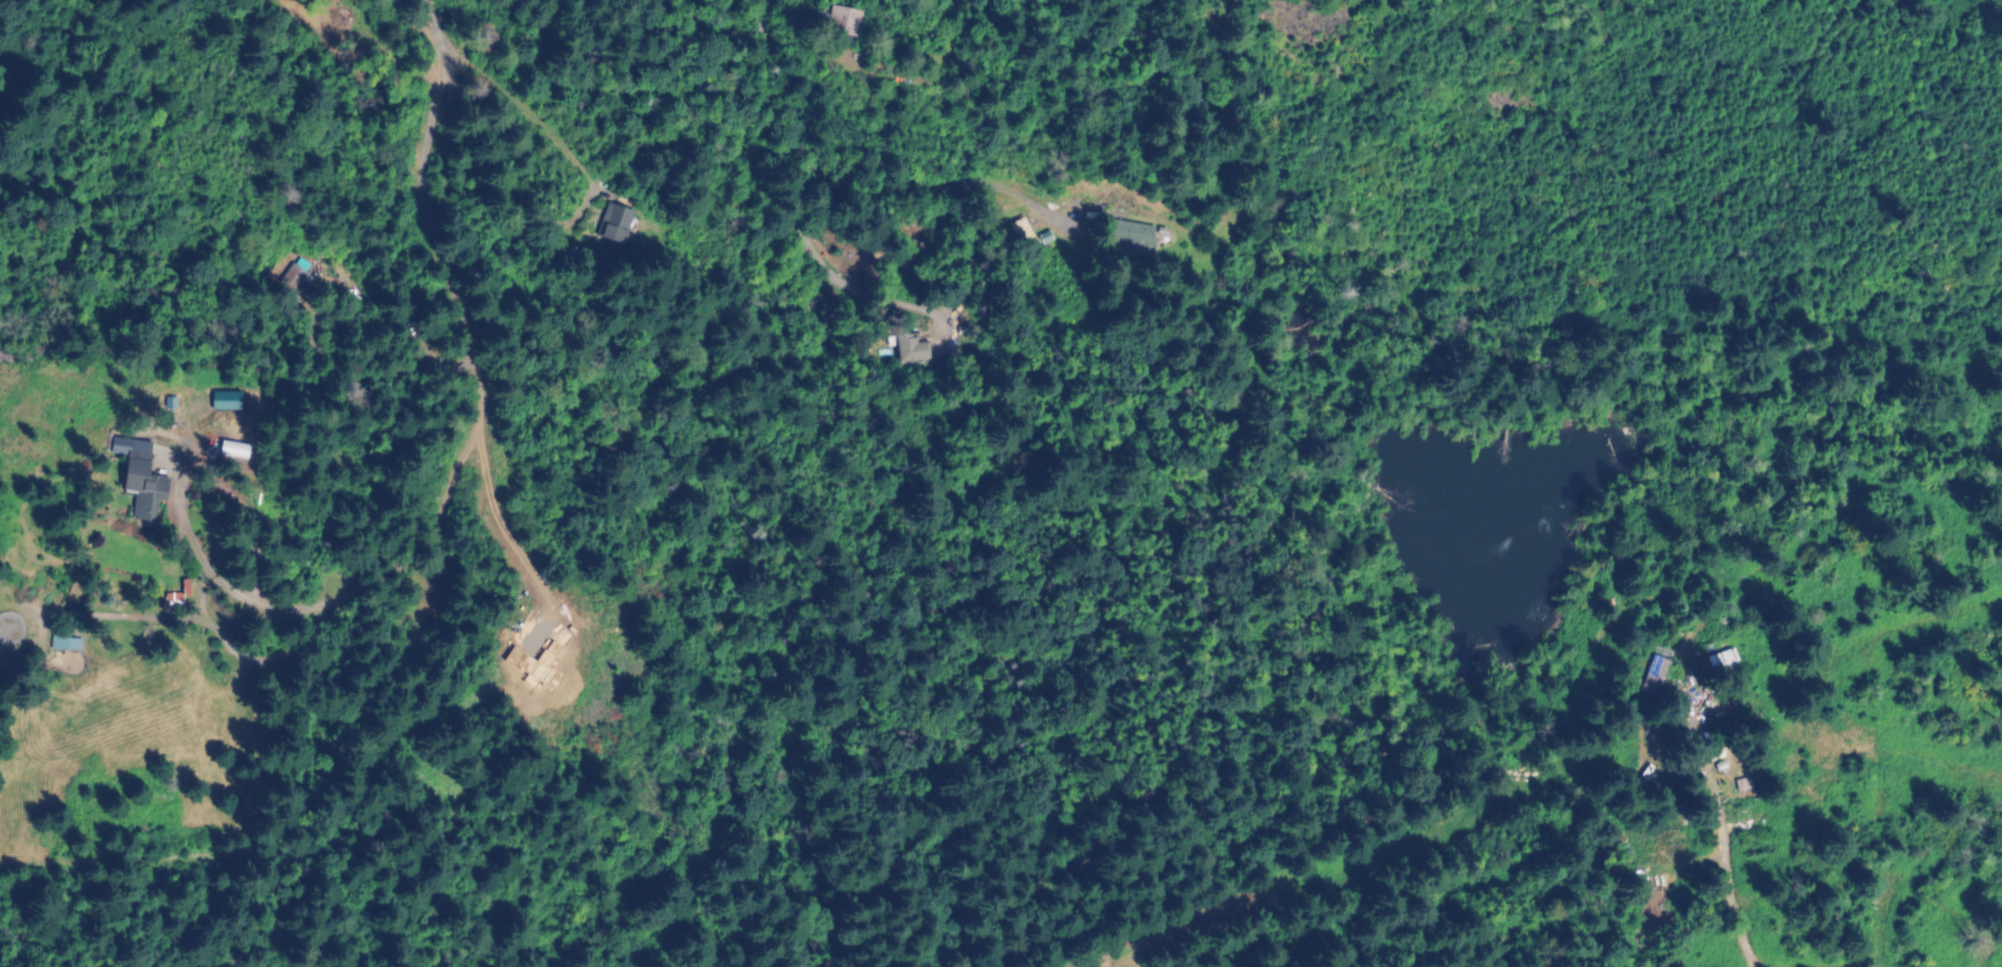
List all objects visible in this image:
building: (842, 24)
road: (786, 157)
building: (614, 222)
building: (1130, 233)
building: (297, 276)
building: (911, 349)
road: (482, 364)
building: (143, 487)
road: (192, 554)
building: (174, 593)
building: (63, 641)
building: (1718, 665)
building: (1654, 679)
building: (1738, 786)
road: (1723, 846)
building: (1657, 906)

